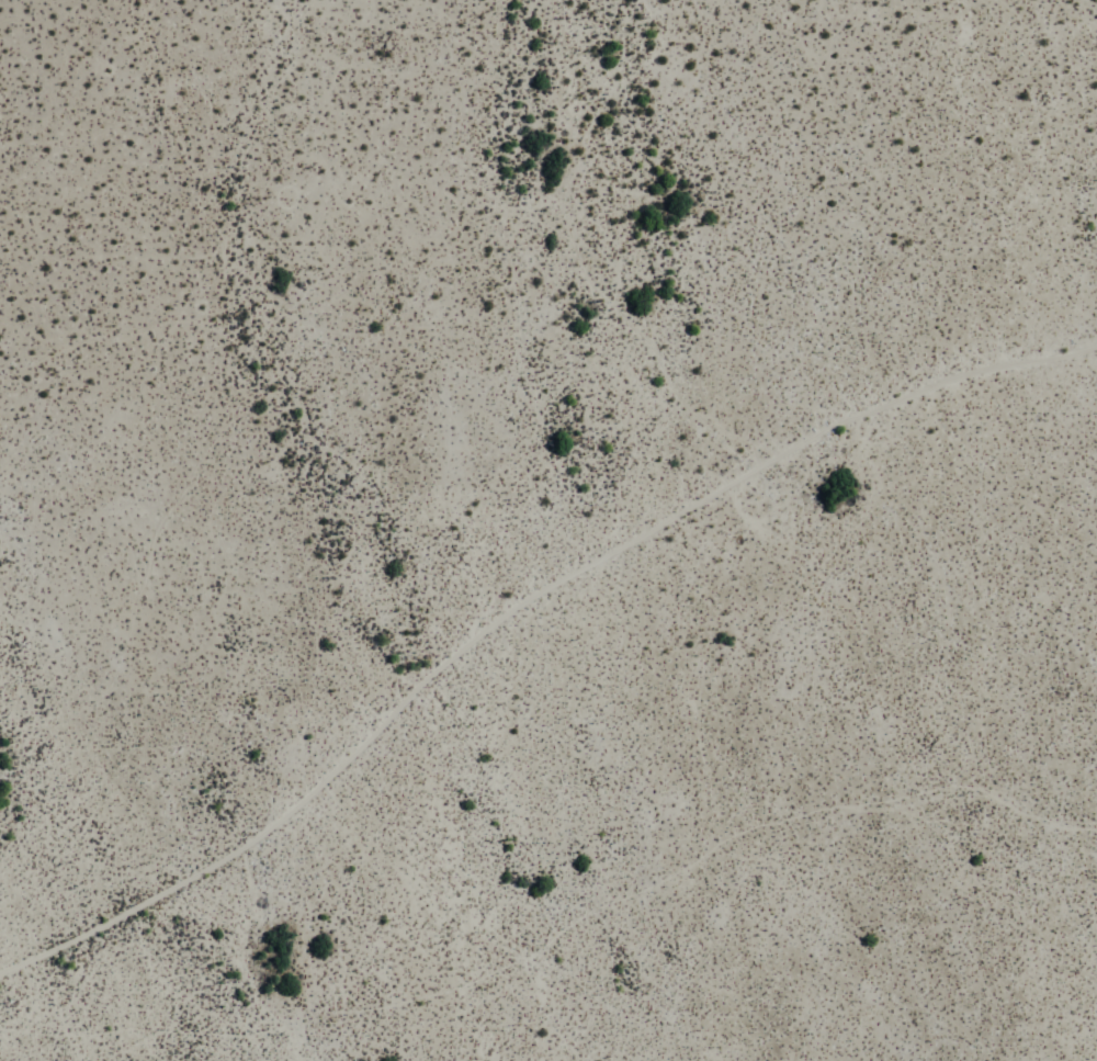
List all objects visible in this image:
road: (519, 606)

